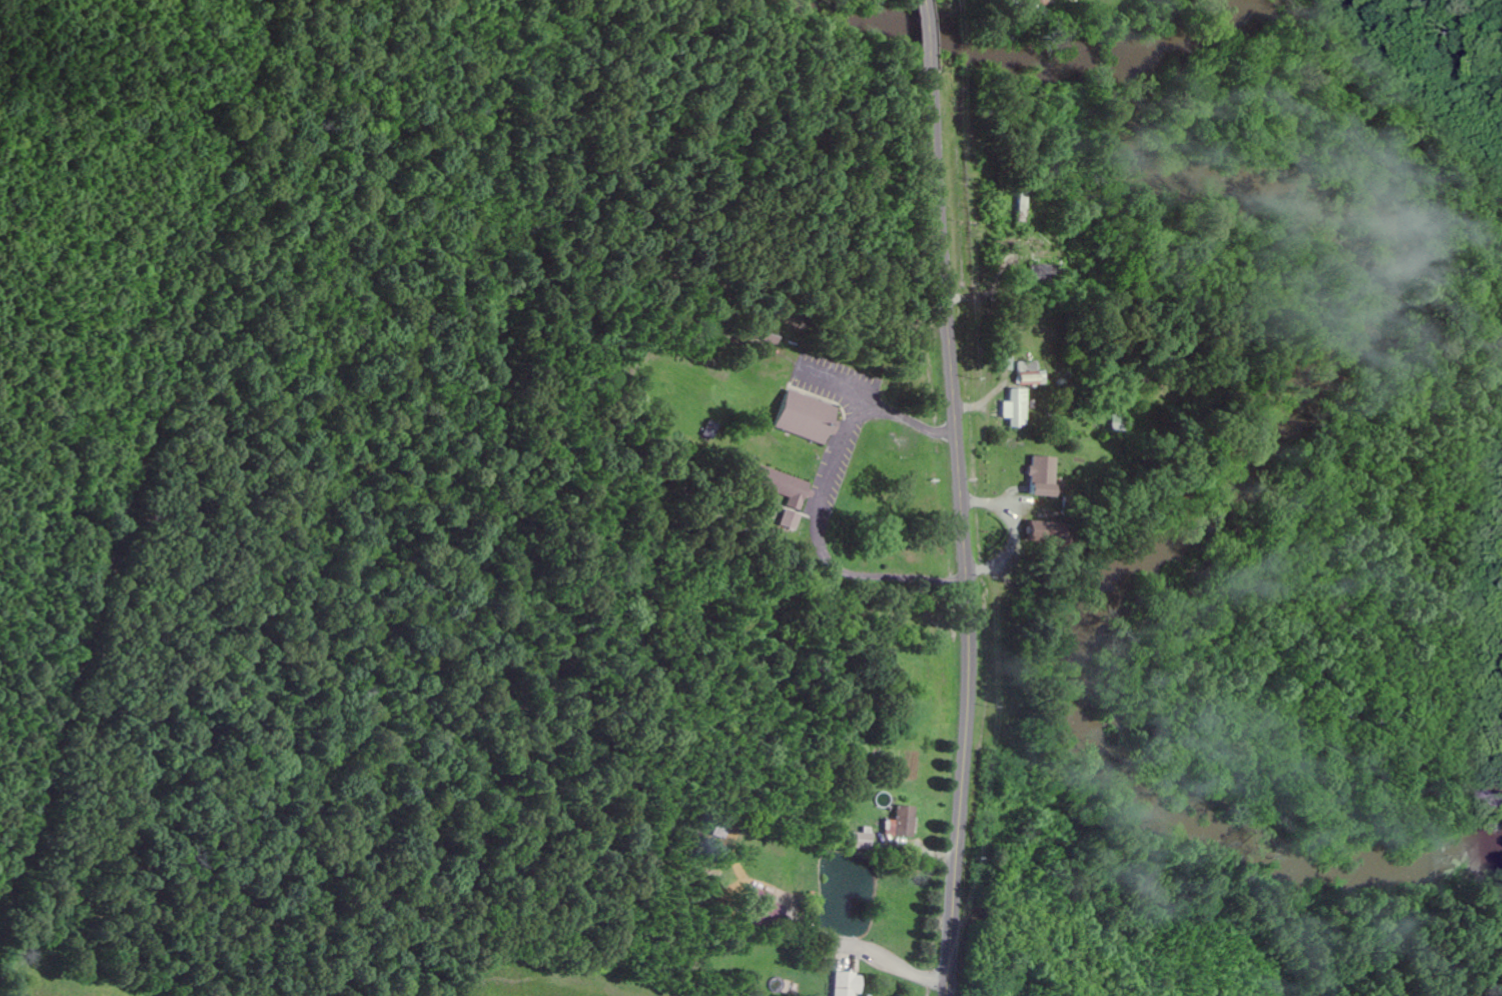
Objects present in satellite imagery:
road: (926, 33)
building: (1040, 273)
building: (768, 331)
building: (1007, 362)
building: (1029, 372)
parking lot: (834, 378)
building: (1016, 407)
building: (807, 415)
road: (907, 416)
road: (851, 423)
building: (709, 427)
river: (1264, 450)
parking lot: (831, 472)
building: (1042, 475)
building: (773, 476)
building: (785, 512)
building: (871, 529)
road: (962, 531)
building: (1045, 532)
road: (872, 573)
building: (901, 822)
building: (863, 837)
building: (763, 902)
building: (847, 984)

